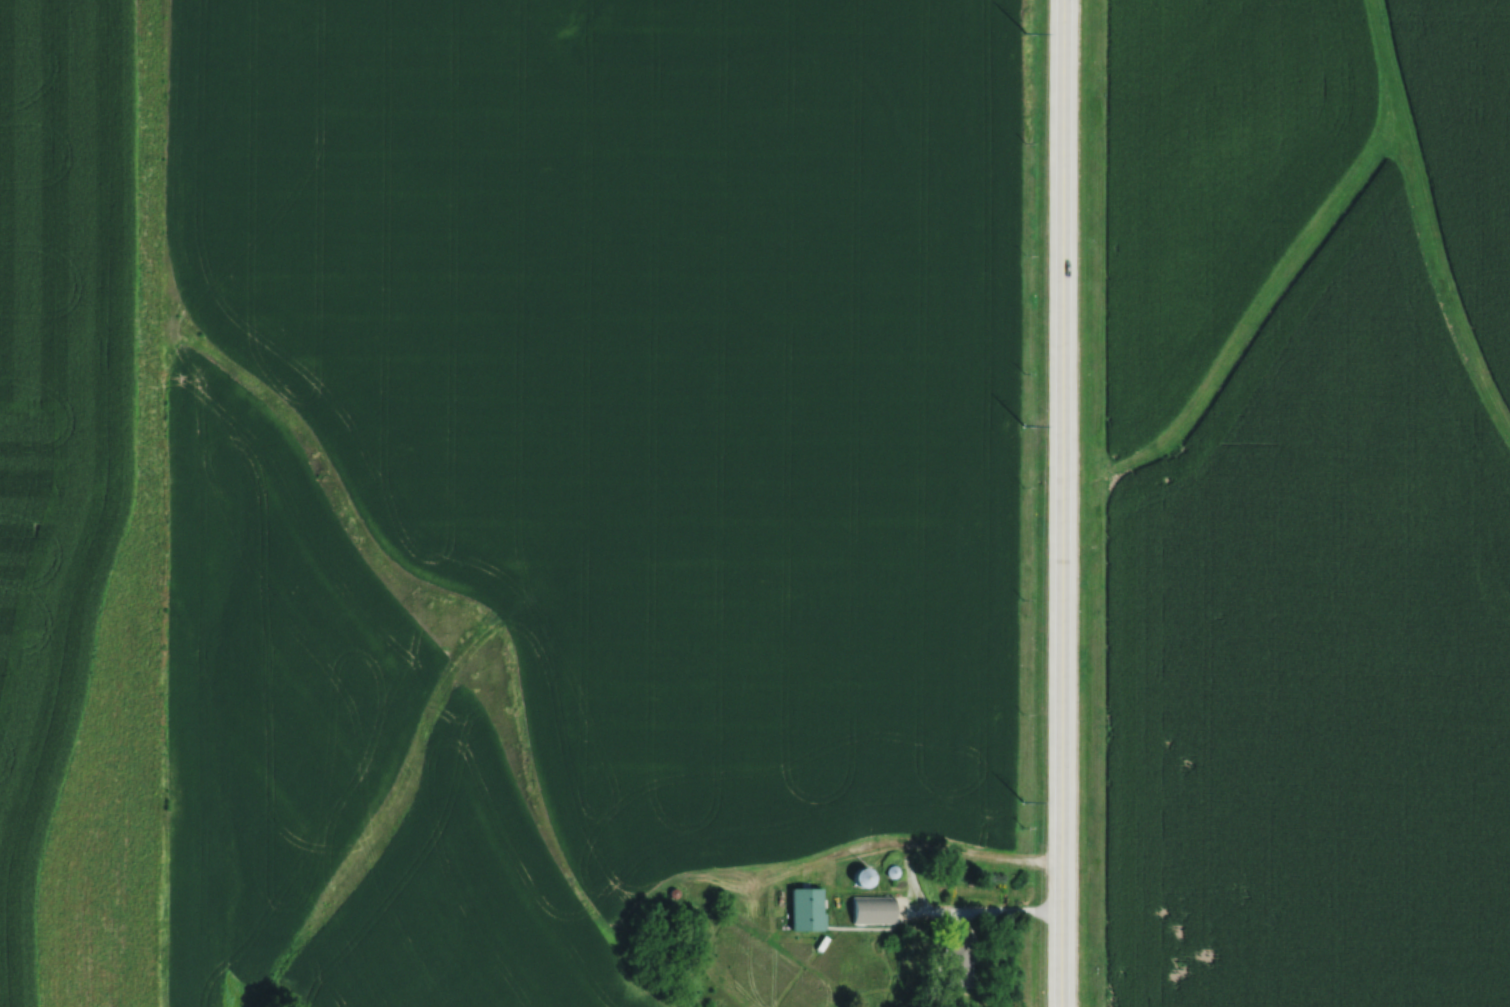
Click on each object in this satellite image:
power tower: (1023, 33)
power tower: (1022, 425)
road: (1060, 503)
power tower: (1020, 802)
building: (864, 876)
building: (874, 909)
road: (990, 910)
building: (958, 960)

